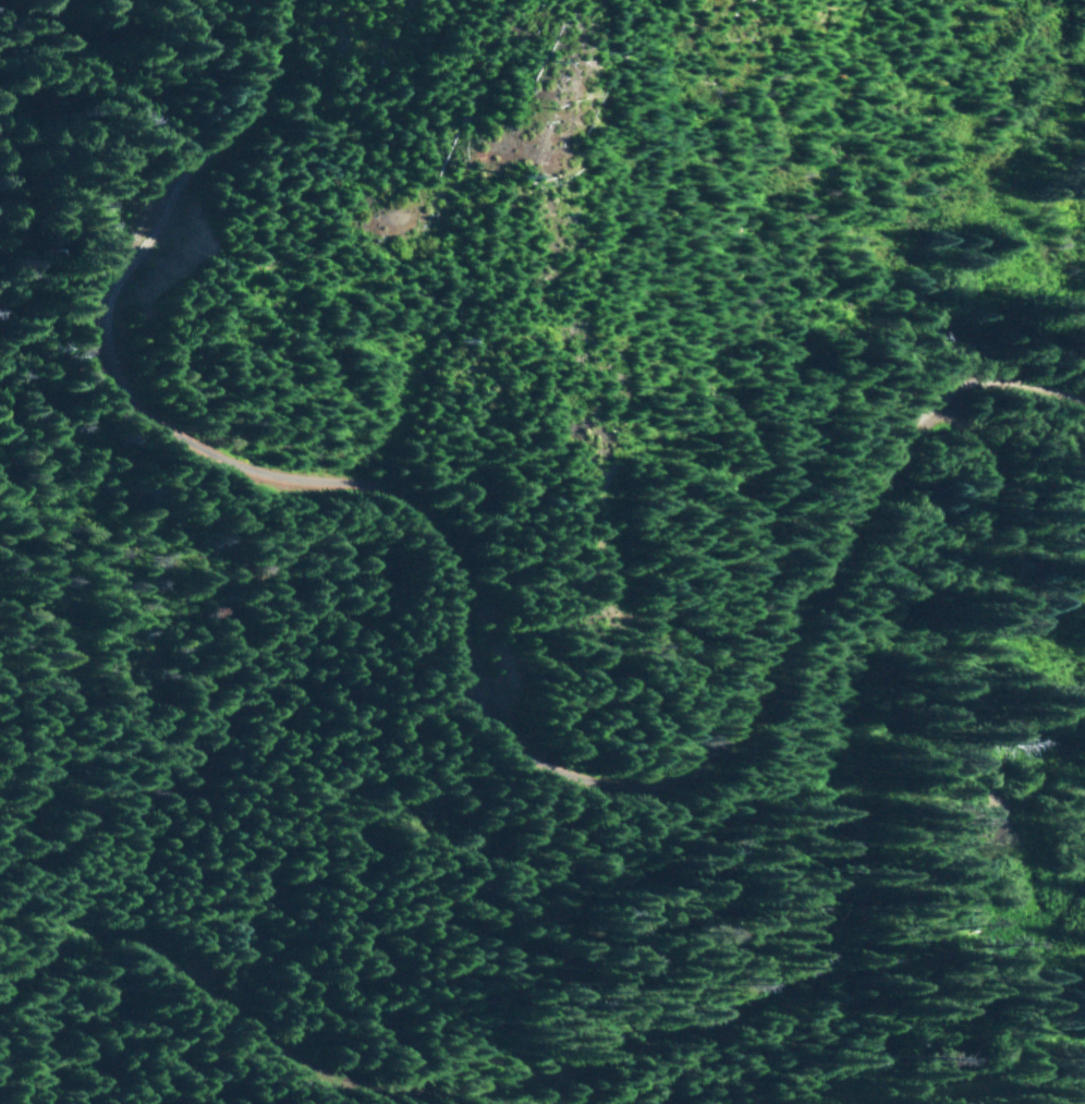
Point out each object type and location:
road: (470, 635)

